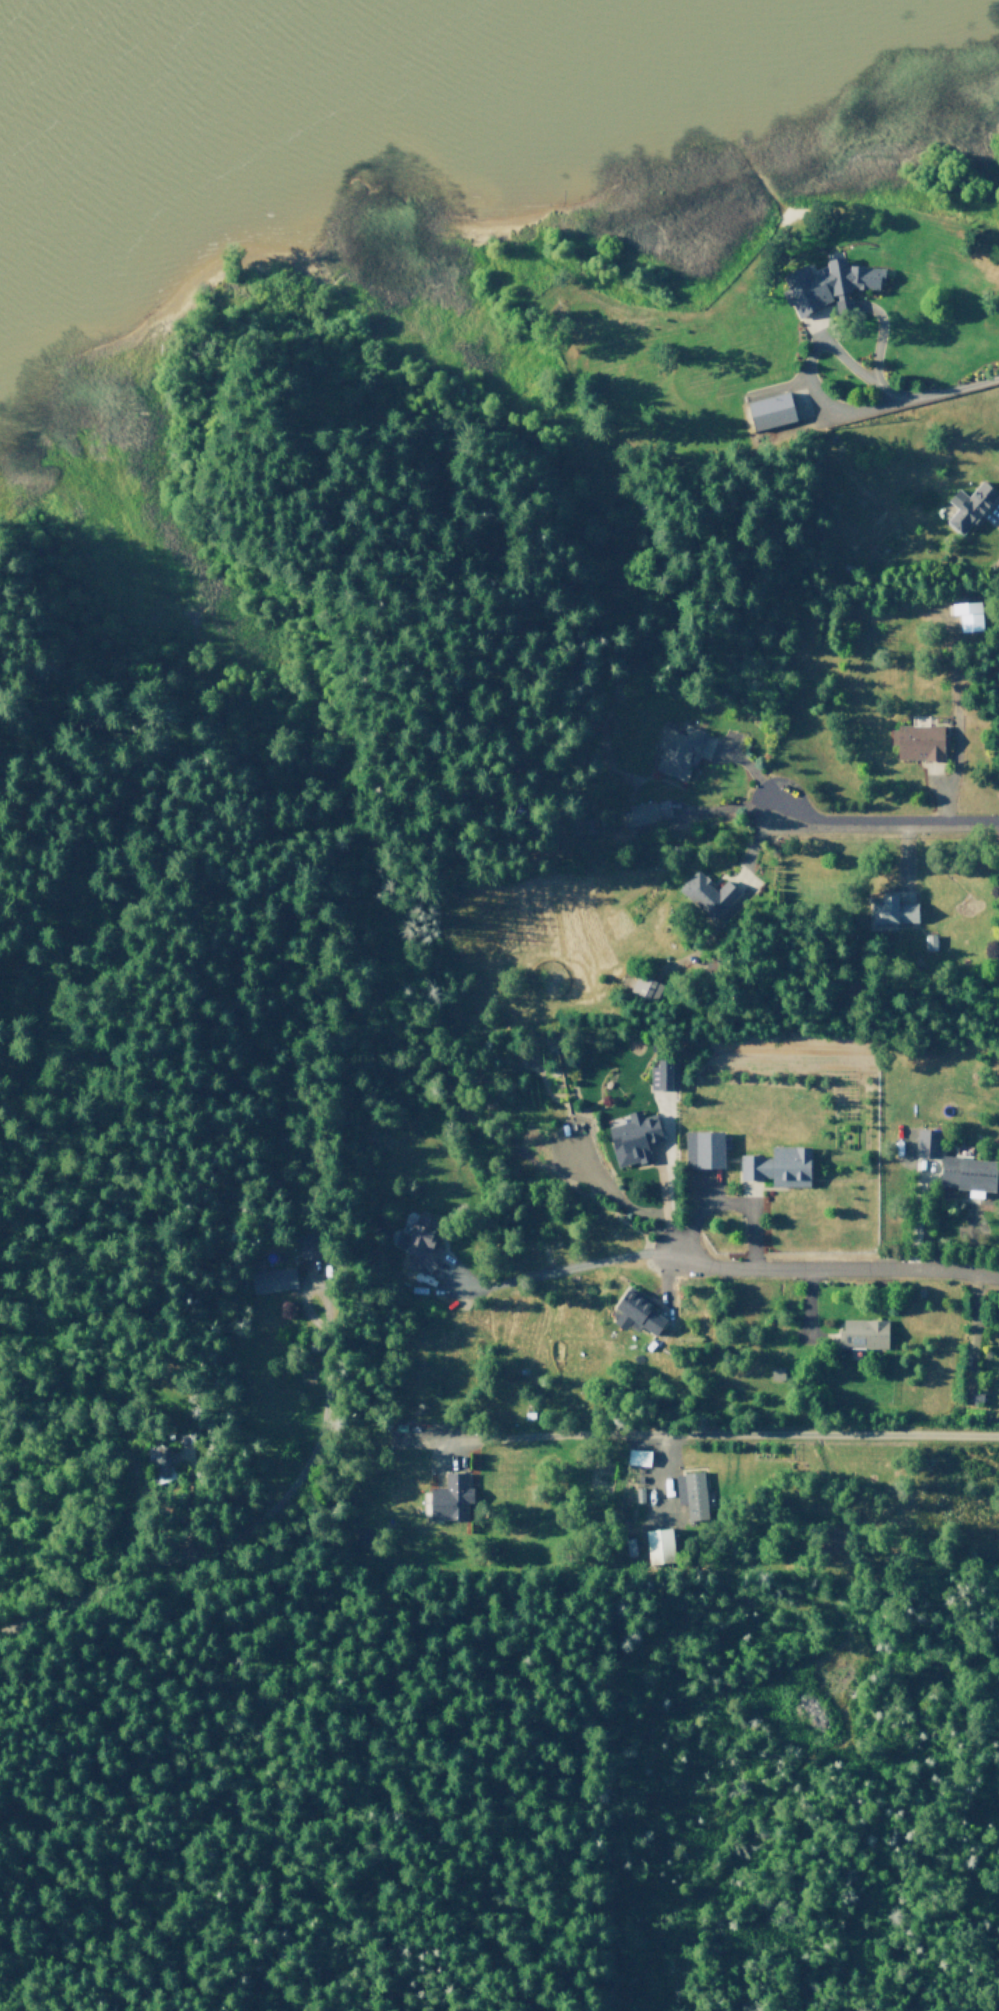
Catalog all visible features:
building: (830, 284)
road: (825, 314)
road: (199, 325)
road: (775, 390)
road: (952, 391)
road: (804, 401)
road: (821, 407)
building: (770, 412)
building: (970, 504)
road: (997, 520)
building: (968, 618)
road: (952, 736)
building: (919, 741)
building: (677, 753)
road: (775, 810)
building: (638, 818)
road: (885, 825)
road: (124, 827)
road: (753, 844)
road: (905, 858)
building: (707, 896)
building: (891, 912)
building: (929, 941)
building: (659, 1072)
building: (631, 1136)
building: (926, 1143)
building: (709, 1147)
building: (777, 1166)
building: (966, 1172)
road: (665, 1179)
road: (709, 1192)
road: (956, 1199)
road: (747, 1201)
road: (725, 1203)
road: (914, 1213)
building: (420, 1240)
building: (304, 1262)
road: (550, 1269)
road: (836, 1269)
road: (664, 1277)
building: (918, 1292)
road: (806, 1312)
building: (636, 1313)
road: (972, 1326)
building: (863, 1333)
building: (776, 1373)
road: (726, 1433)
road: (443, 1440)
building: (635, 1457)
building: (159, 1464)
road: (657, 1472)
building: (696, 1495)
building: (451, 1497)
road: (245, 1529)
building: (658, 1547)
road: (802, 1752)

